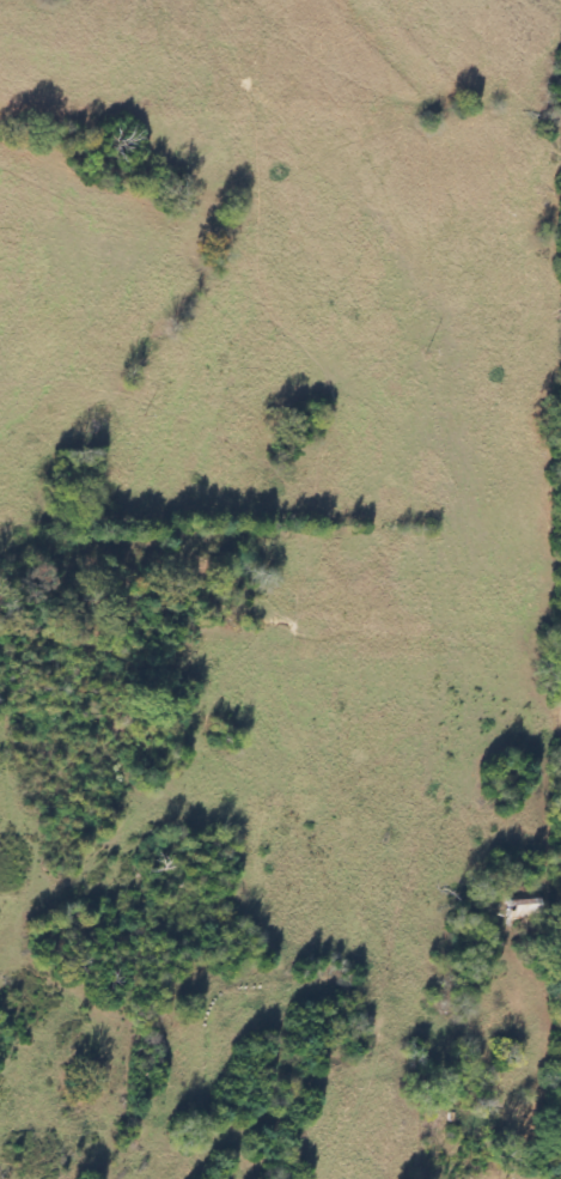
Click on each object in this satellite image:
road: (559, 587)
building: (525, 907)

